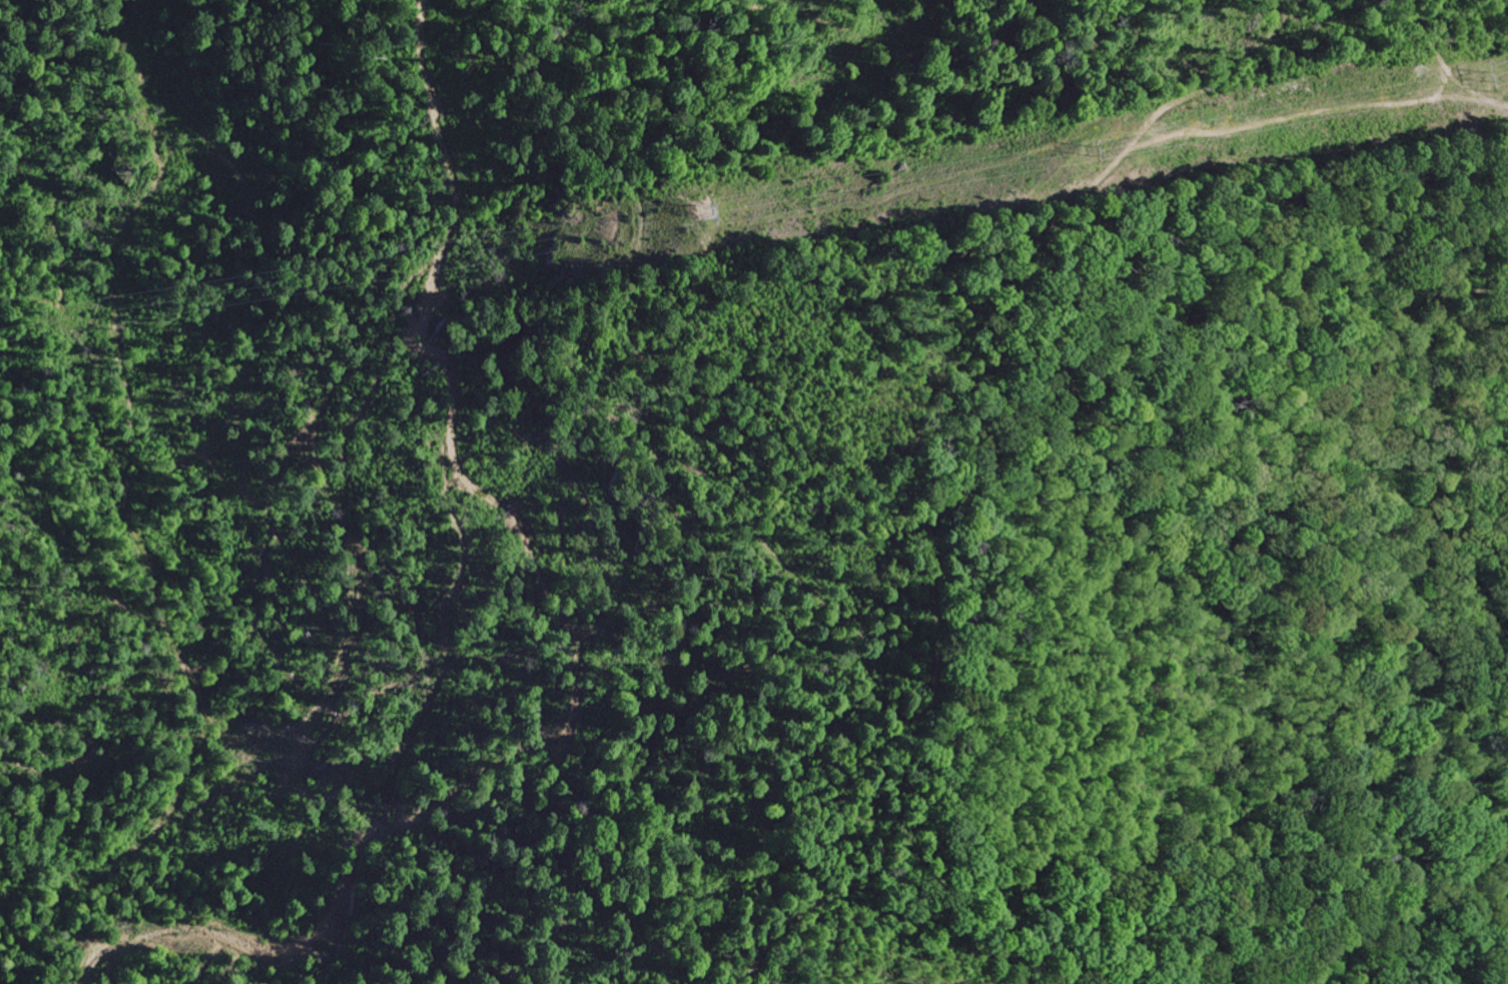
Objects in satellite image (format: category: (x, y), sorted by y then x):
power tower: (709, 223)

